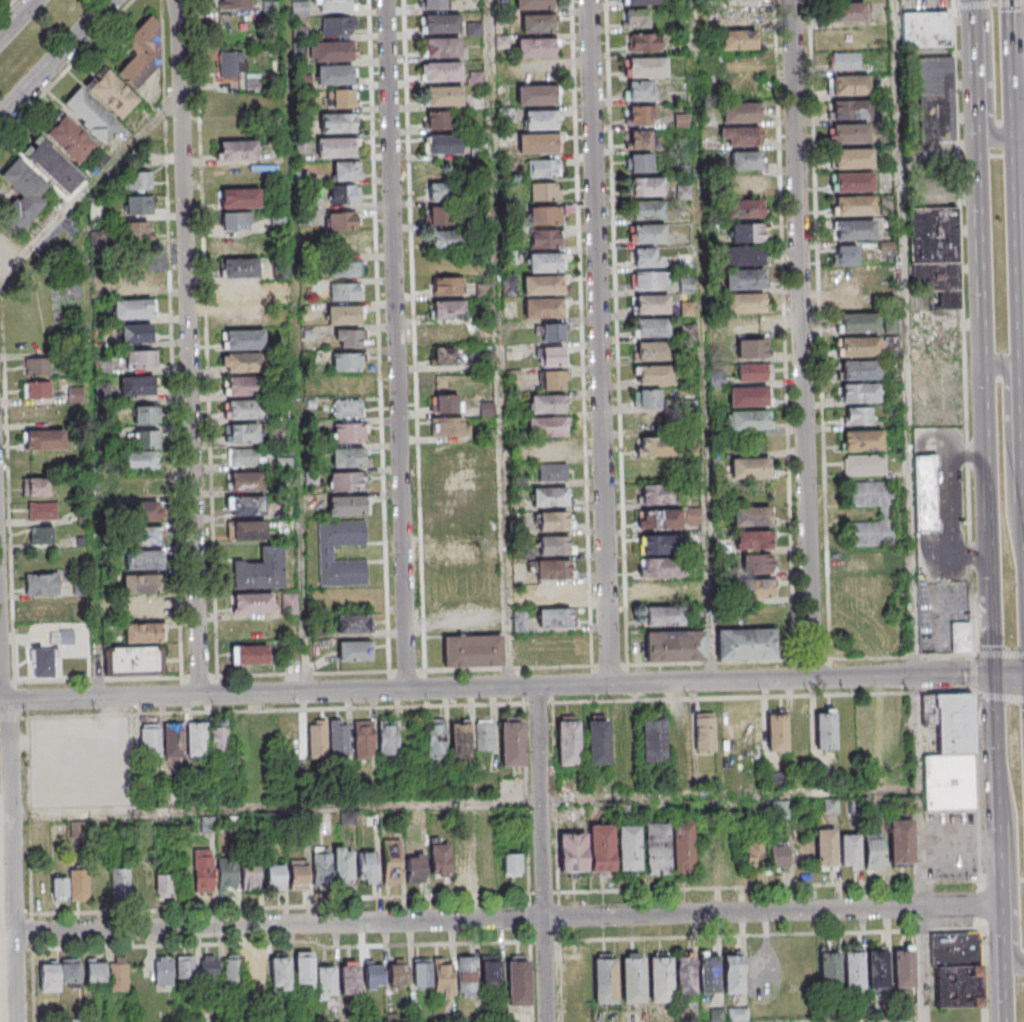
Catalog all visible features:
building: (738, 0)
building: (238, 3)
road: (972, 3)
building: (433, 4)
building: (645, 4)
road: (988, 4)
building: (534, 6)
building: (299, 8)
building: (332, 8)
building: (847, 12)
building: (738, 15)
building: (635, 18)
road: (19, 20)
building: (538, 23)
building: (337, 25)
building: (441, 29)
building: (926, 32)
building: (299, 33)
building: (501, 42)
building: (642, 42)
building: (738, 44)
building: (298, 48)
road: (974, 51)
building: (536, 52)
building: (141, 53)
building: (442, 53)
building: (332, 57)
road: (56, 61)
building: (845, 61)
building: (745, 63)
building: (232, 64)
road: (1013, 67)
building: (648, 71)
building: (442, 76)
road: (990, 77)
building: (935, 78)
building: (334, 80)
building: (850, 89)
building: (639, 91)
building: (443, 96)
building: (340, 98)
building: (537, 99)
building: (229, 103)
building: (100, 106)
building: (740, 112)
building: (851, 113)
building: (640, 115)
building: (436, 120)
building: (936, 121)
building: (336, 122)
building: (541, 124)
building: (741, 136)
road: (1020, 136)
building: (851, 137)
building: (69, 139)
building: (639, 140)
building: (441, 144)
building: (538, 147)
building: (237, 150)
building: (336, 152)
building: (750, 160)
building: (638, 162)
building: (854, 162)
building: (52, 165)
building: (543, 168)
building: (346, 171)
building: (136, 181)
building: (746, 184)
building: (854, 186)
building: (648, 190)
building: (438, 191)
building: (545, 191)
building: (24, 192)
building: (342, 194)
building: (240, 198)
building: (137, 204)
building: (856, 210)
building: (744, 212)
building: (649, 213)
building: (438, 215)
building: (544, 215)
building: (341, 220)
building: (235, 221)
building: (136, 229)
road: (980, 231)
building: (746, 232)
building: (855, 234)
building: (649, 236)
building: (545, 238)
building: (97, 239)
building: (445, 239)
building: (239, 243)
building: (344, 244)
building: (5, 249)
building: (844, 254)
building: (935, 255)
building: (644, 258)
building: (746, 259)
road: (1020, 260)
building: (545, 266)
building: (240, 268)
building: (344, 268)
building: (856, 276)
building: (138, 282)
building: (746, 282)
building: (651, 283)
building: (445, 285)
building: (543, 289)
building: (345, 291)
building: (241, 293)
building: (855, 301)
building: (746, 306)
building: (653, 307)
building: (447, 309)
building: (544, 312)
building: (138, 314)
building: (345, 314)
road: (964, 327)
building: (859, 328)
building: (747, 330)
road: (821, 330)
building: (654, 331)
building: (551, 332)
building: (136, 333)
building: (452, 333)
road: (618, 334)
building: (347, 338)
road: (904, 338)
road: (803, 339)
building: (243, 340)
road: (702, 340)
road: (601, 342)
road: (500, 343)
road: (398, 345)
road: (187, 347)
building: (752, 348)
road: (787, 349)
road: (583, 351)
building: (860, 351)
building: (550, 355)
building: (654, 355)
building: (444, 357)
building: (139, 359)
building: (346, 362)
building: (36, 366)
building: (243, 367)
building: (753, 372)
building: (860, 374)
building: (552, 379)
building: (655, 379)
building: (37, 390)
building: (139, 390)
building: (246, 390)
building: (75, 395)
road: (299, 397)
building: (860, 397)
building: (646, 399)
building: (749, 401)
building: (446, 403)
building: (347, 408)
building: (548, 408)
building: (246, 414)
building: (144, 415)
building: (857, 415)
building: (749, 425)
building: (449, 427)
building: (547, 431)
building: (349, 433)
building: (242, 434)
building: (146, 438)
building: (42, 439)
building: (655, 447)
building: (862, 447)
building: (551, 449)
road: (1010, 451)
building: (347, 457)
building: (460, 457)
road: (967, 458)
building: (247, 459)
building: (139, 466)
building: (865, 469)
building: (551, 472)
road: (988, 473)
building: (751, 475)
building: (346, 481)
building: (246, 482)
building: (34, 486)
building: (140, 492)
building: (926, 494)
building: (458, 497)
building: (657, 501)
building: (550, 503)
building: (348, 505)
road: (1018, 506)
building: (246, 507)
building: (41, 511)
road: (955, 513)
building: (886, 514)
building: (142, 516)
building: (554, 521)
building: (751, 522)
building: (457, 525)
building: (658, 525)
building: (246, 531)
building: (41, 534)
building: (752, 539)
building: (145, 540)
building: (554, 545)
building: (663, 550)
building: (454, 551)
building: (327, 555)
road: (941, 557)
building: (865, 562)
building: (757, 563)
building: (145, 565)
building: (554, 569)
building: (664, 573)
building: (262, 574)
building: (41, 583)
building: (760, 588)
building: (142, 589)
building: (554, 593)
building: (662, 593)
building: (251, 603)
building: (41, 608)
building: (144, 608)
road: (941, 614)
building: (554, 617)
building: (519, 621)
building: (666, 622)
building: (352, 623)
road: (992, 628)
building: (960, 637)
building: (145, 638)
building: (746, 644)
building: (674, 645)
building: (354, 650)
building: (472, 651)
building: (50, 653)
building: (249, 655)
road: (998, 655)
building: (133, 662)
road: (407, 673)
traffic signals: (993, 675)
road: (974, 676)
road: (1008, 676)
road: (496, 687)
road: (999, 697)
road: (498, 706)
building: (826, 728)
building: (777, 731)
building: (681, 733)
building: (705, 734)
building: (484, 735)
building: (218, 738)
building: (339, 738)
building: (435, 738)
building: (652, 738)
building: (197, 739)
building: (317, 739)
building: (459, 739)
building: (126, 740)
building: (173, 740)
building: (364, 740)
building: (388, 740)
building: (597, 740)
building: (150, 741)
building: (511, 741)
building: (567, 742)
building: (950, 753)
road: (994, 754)
road: (977, 788)
road: (286, 806)
building: (829, 806)
road: (8, 812)
building: (207, 825)
building: (901, 842)
building: (683, 843)
building: (600, 846)
building: (628, 847)
building: (656, 848)
road: (920, 848)
building: (825, 849)
building: (874, 851)
building: (849, 852)
building: (753, 853)
road: (540, 854)
building: (777, 857)
building: (438, 858)
building: (391, 860)
building: (341, 861)
road: (1014, 862)
building: (462, 865)
building: (511, 865)
building: (321, 866)
building: (367, 867)
building: (416, 869)
building: (202, 871)
building: (227, 872)
building: (249, 873)
building: (299, 875)
building: (274, 876)
building: (120, 881)
building: (79, 884)
building: (162, 884)
building: (59, 886)
road: (998, 893)
road: (980, 905)
road: (225, 909)
road: (506, 919)
road: (730, 937)
building: (184, 966)
building: (257, 967)
building: (903, 967)
building: (209, 968)
building: (878, 968)
building: (303, 969)
building: (491, 969)
building: (830, 969)
building: (853, 969)
building: (232, 970)
building: (955, 970)
building: (95, 971)
building: (163, 971)
building: (279, 971)
building: (732, 972)
building: (422, 973)
building: (708, 973)
building: (685, 974)
building: (373, 975)
building: (397, 975)
building: (466, 976)
road: (983, 976)
building: (49, 977)
building: (119, 977)
building: (443, 978)
building: (660, 978)
building: (604, 979)
building: (632, 979)
building: (323, 980)
building: (349, 980)
building: (518, 982)
road: (1002, 988)

